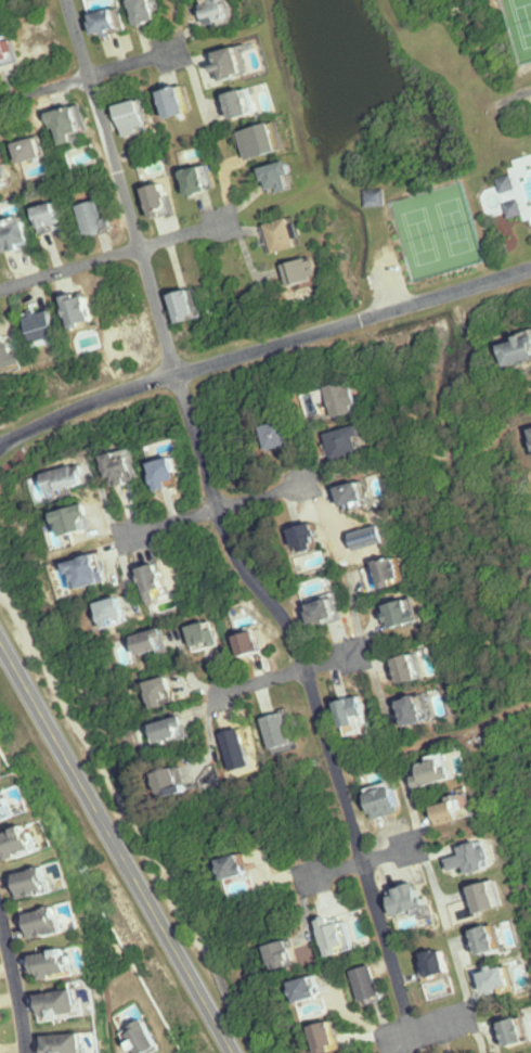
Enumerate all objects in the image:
building: (145, 10)
building: (219, 10)
building: (107, 20)
park: (522, 20)
building: (8, 49)
building: (230, 61)
road: (135, 63)
road: (44, 89)
building: (177, 100)
building: (243, 101)
building: (134, 116)
building: (68, 123)
building: (260, 139)
building: (30, 147)
building: (282, 176)
building: (5, 177)
building: (200, 178)
building: (515, 197)
building: (159, 198)
building: (376, 198)
building: (50, 213)
building: (93, 216)
park: (455, 228)
building: (14, 231)
building: (282, 233)
road: (187, 235)
park: (422, 237)
road: (70, 269)
building: (300, 271)
building: (187, 305)
building: (80, 308)
building: (41, 324)
road: (168, 344)
building: (517, 348)
road: (262, 349)
building: (7, 351)
building: (349, 399)
building: (530, 431)
building: (282, 435)
building: (350, 444)
building: (130, 467)
building: (177, 473)
building: (74, 480)
road: (264, 493)
building: (361, 493)
building: (85, 518)
road: (171, 521)
building: (315, 537)
building: (95, 572)
building: (399, 573)
building: (160, 581)
building: (329, 612)
building: (120, 613)
building: (414, 613)
building: (216, 635)
building: (158, 642)
building: (257, 643)
road: (335, 662)
building: (414, 669)
road: (262, 682)
building: (170, 692)
building: (425, 709)
building: (362, 717)
building: (179, 731)
building: (284, 732)
road: (336, 765)
building: (441, 771)
building: (1, 774)
building: (180, 782)
building: (390, 800)
building: (12, 805)
building: (458, 812)
building: (25, 843)
road: (116, 846)
road: (392, 852)
building: (476, 859)
building: (239, 868)
road: (334, 871)
building: (39, 883)
building: (492, 898)
building: (415, 900)
building: (51, 924)
building: (351, 934)
building: (493, 941)
building: (294, 954)
road: (391, 956)
building: (61, 965)
building: (441, 965)
building: (503, 978)
road: (16, 984)
building: (373, 985)
building: (313, 990)
building: (67, 1006)
building: (3, 1009)
road: (501, 1009)
road: (425, 1030)
building: (518, 1035)
building: (335, 1038)
building: (146, 1039)
building: (75, 1043)
building: (7, 1049)

